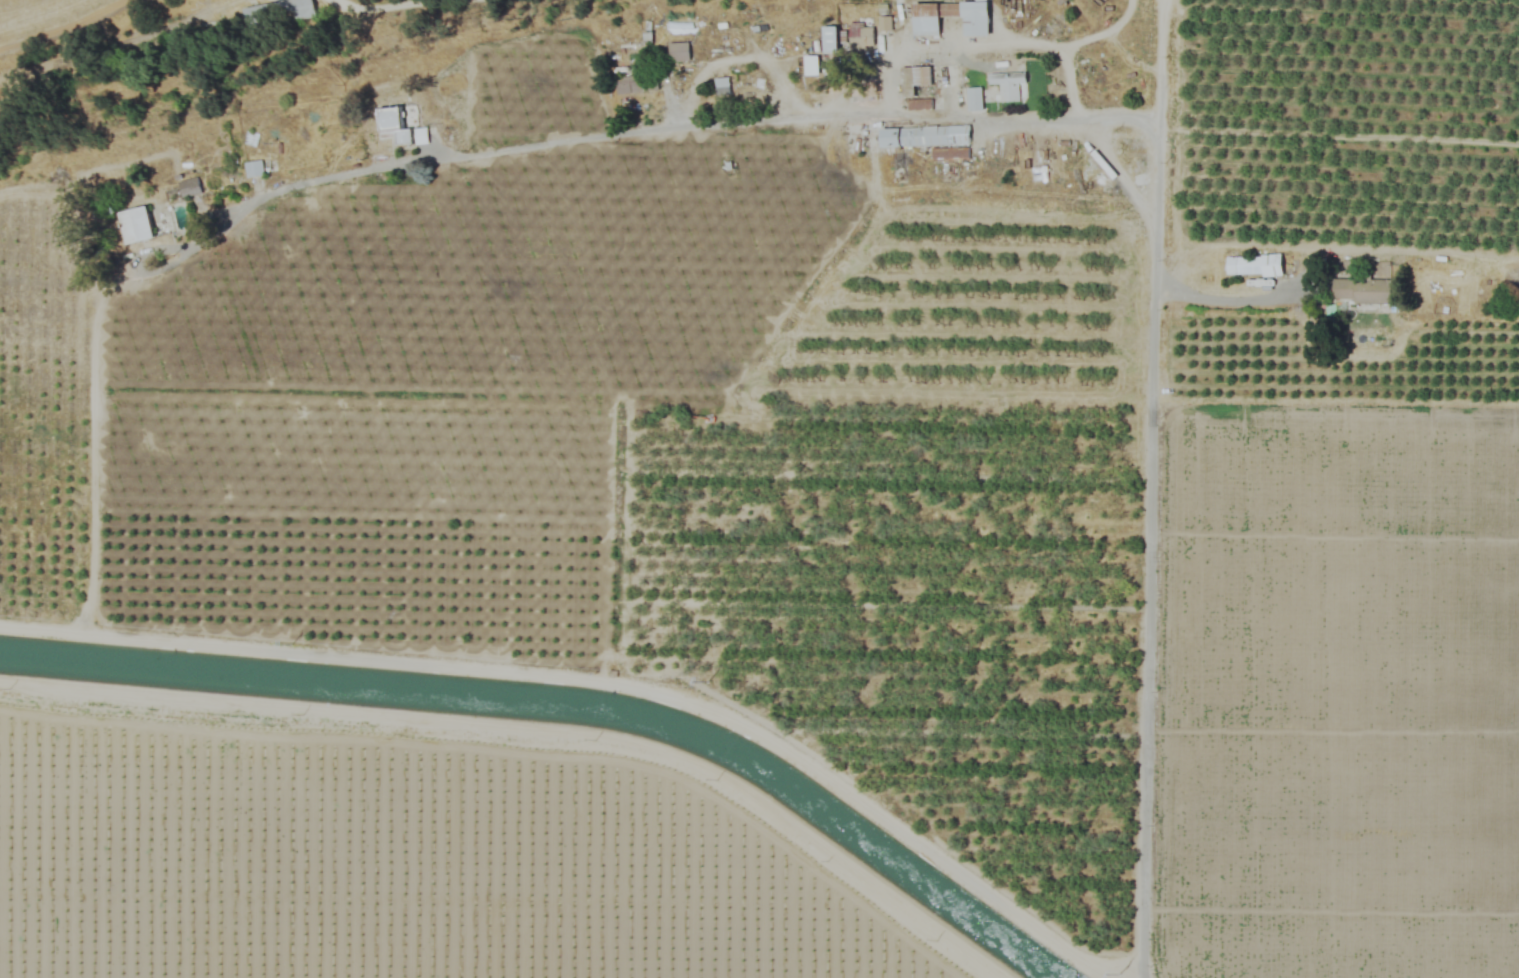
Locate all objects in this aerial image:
road: (361, 0)
road: (1160, 5)
building: (276, 12)
crop: (53, 18)
building: (975, 26)
building: (860, 35)
building: (830, 39)
road: (1013, 41)
building: (630, 49)
building: (678, 51)
building: (810, 65)
building: (634, 83)
building: (1007, 84)
building: (721, 86)
building: (916, 87)
building: (973, 99)
building: (393, 125)
road: (648, 130)
building: (924, 136)
crop: (695, 139)
road: (1155, 144)
road: (1090, 145)
building: (260, 167)
building: (188, 187)
building: (136, 225)
building: (1252, 266)
building: (1362, 291)
road: (1222, 300)
road: (1151, 635)

